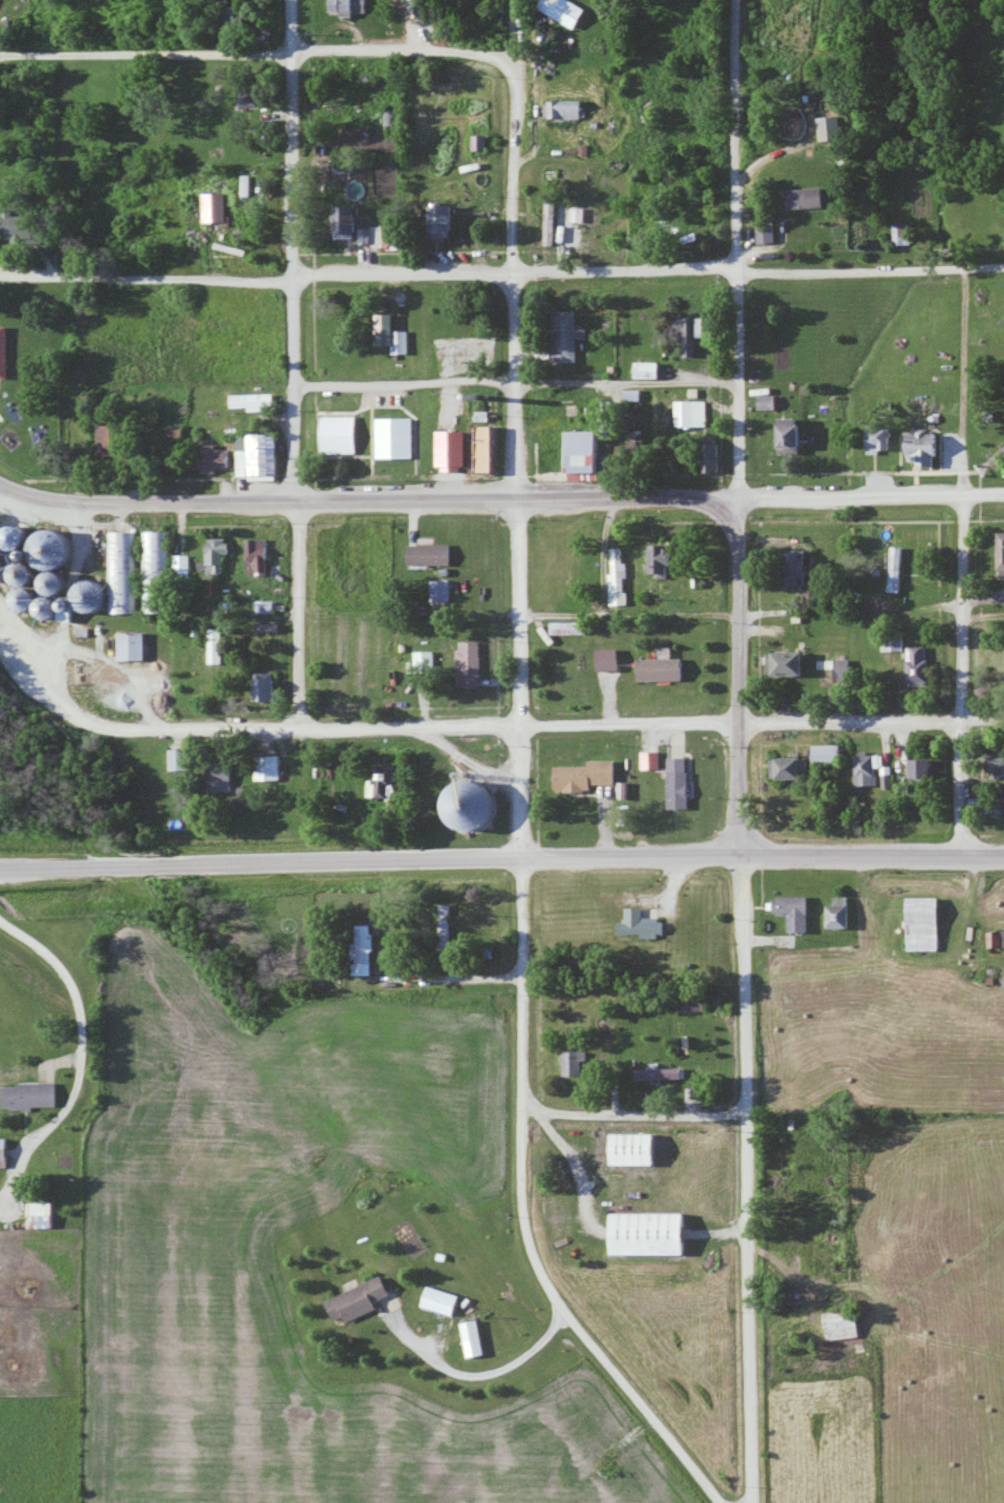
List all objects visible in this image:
building: (347, 6)
building: (566, 11)
building: (240, 15)
road: (50, 26)
road: (259, 52)
building: (831, 128)
building: (806, 198)
building: (443, 217)
building: (349, 220)
road: (738, 248)
road: (291, 250)
road: (502, 272)
building: (568, 335)
building: (253, 401)
building: (691, 412)
road: (518, 428)
building: (787, 431)
building: (344, 435)
building: (398, 435)
building: (878, 437)
building: (491, 445)
building: (453, 446)
building: (926, 446)
building: (582, 447)
building: (259, 455)
building: (216, 458)
road: (23, 493)
road: (649, 497)
road: (170, 502)
building: (219, 554)
building: (432, 554)
building: (259, 557)
building: (667, 560)
road: (965, 563)
building: (183, 567)
building: (156, 572)
building: (121, 574)
building: (443, 590)
road: (299, 614)
building: (894, 641)
road: (15, 644)
building: (611, 659)
building: (427, 661)
building: (795, 663)
building: (472, 664)
building: (665, 669)
building: (836, 670)
road: (741, 676)
building: (267, 686)
road: (503, 727)
building: (829, 755)
building: (274, 768)
building: (796, 768)
building: (868, 770)
building: (927, 770)
building: (680, 773)
road: (501, 857)
building: (634, 921)
building: (925, 923)
road: (746, 978)
building: (442, 1060)
building: (576, 1062)
building: (662, 1073)
road: (528, 1091)
building: (41, 1094)
building: (639, 1148)
building: (5, 1152)
building: (654, 1232)
building: (363, 1300)
road: (752, 1301)
building: (846, 1325)
road: (648, 1408)

